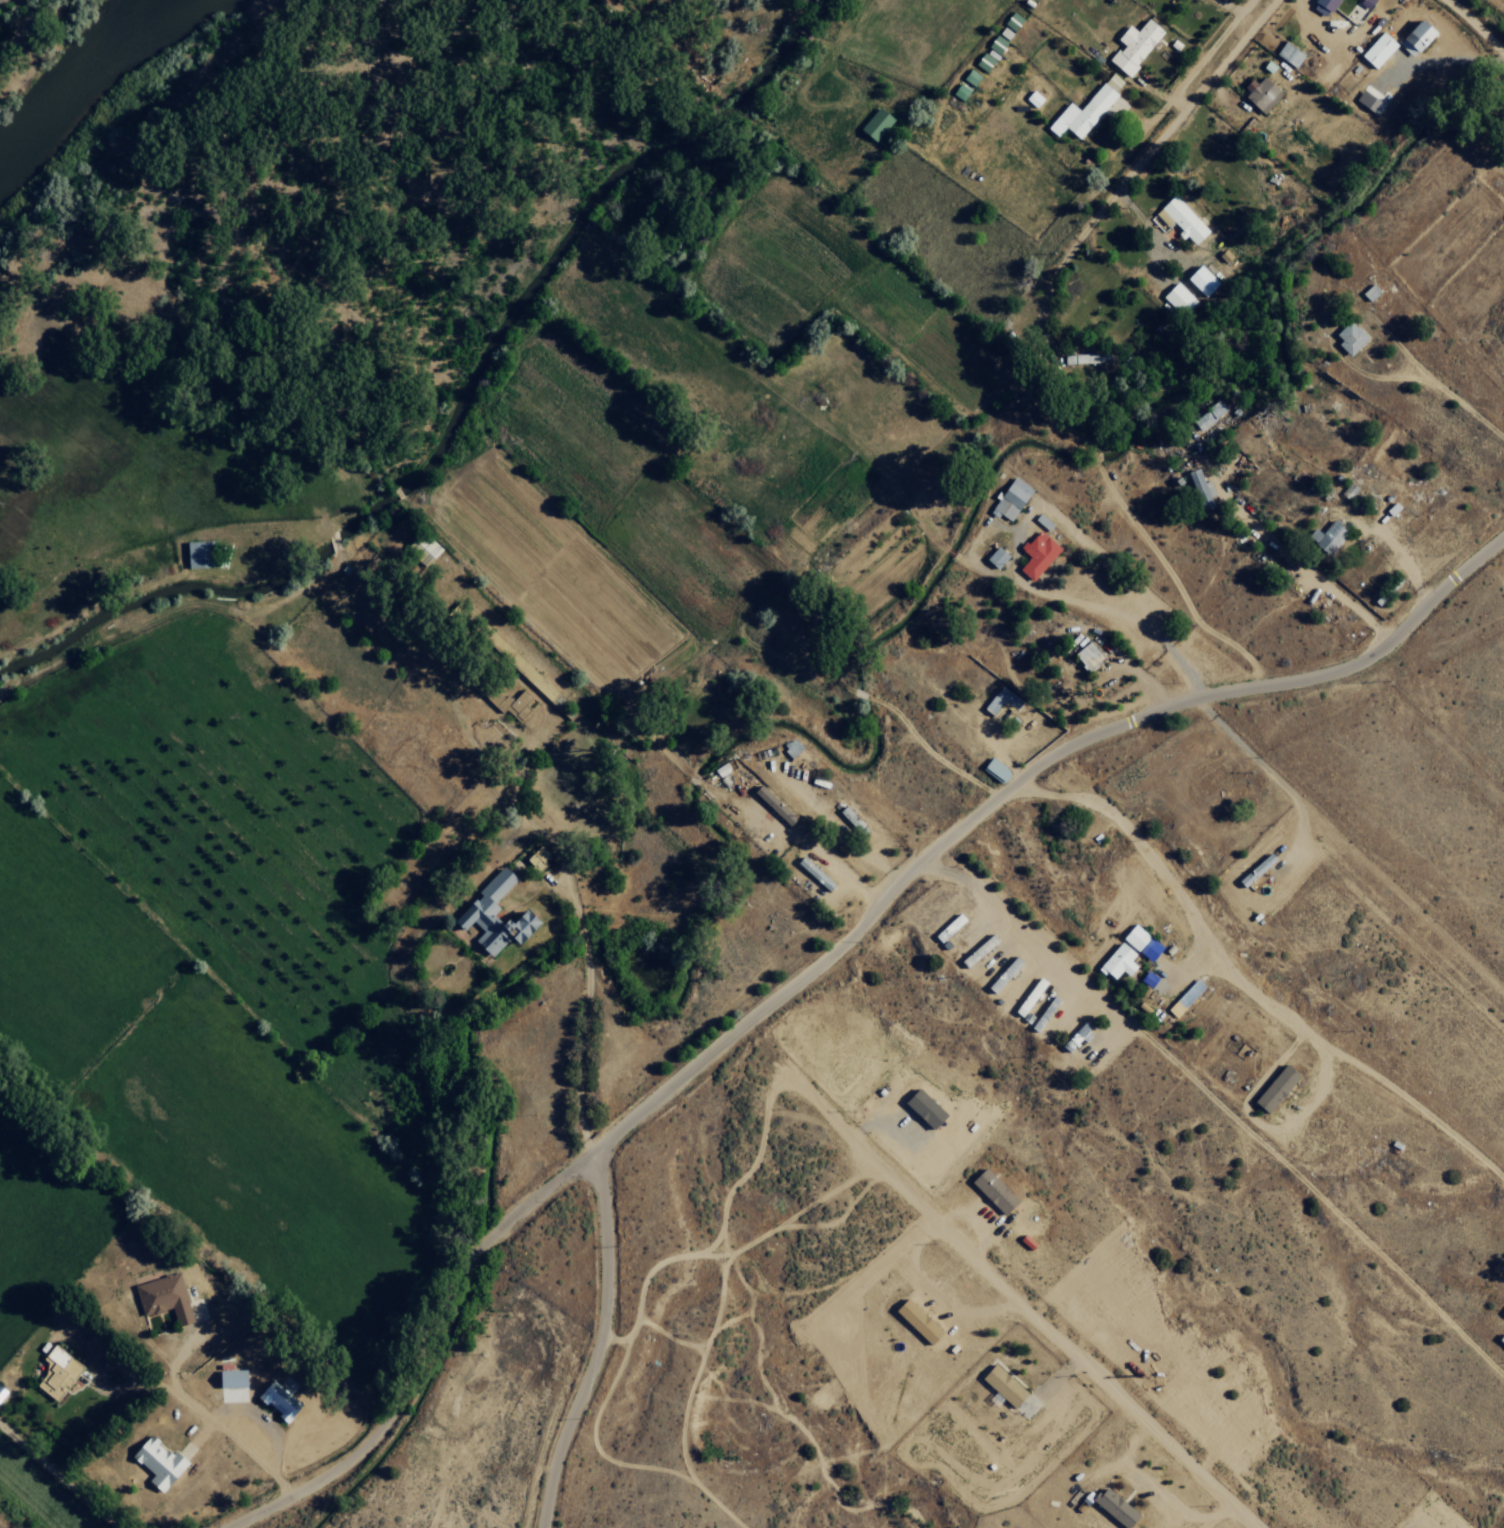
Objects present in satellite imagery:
building: (1370, 0)
building: (1321, 6)
building: (1003, 32)
building: (1414, 37)
building: (995, 43)
building: (1132, 45)
building: (1376, 49)
building: (1288, 54)
building: (984, 59)
building: (969, 76)
building: (1111, 81)
building: (958, 91)
river: (96, 92)
building: (1259, 93)
building: (1032, 97)
building: (1367, 97)
building: (1080, 112)
building: (873, 123)
building: (1179, 219)
building: (1201, 279)
building: (1368, 292)
building: (1180, 298)
building: (1347, 336)
building: (1081, 358)
building: (1207, 414)
building: (1198, 488)
building: (1009, 499)
building: (1042, 521)
building: (1326, 536)
building: (424, 551)
road: (1434, 552)
building: (192, 554)
building: (1036, 554)
building: (994, 557)
road: (1351, 611)
building: (1085, 655)
building: (998, 699)
building: (506, 702)
building: (790, 747)
building: (993, 769)
building: (722, 772)
road: (1357, 797)
building: (771, 804)
road: (1350, 814)
building: (851, 819)
building: (535, 858)
road: (1122, 863)
building: (1254, 869)
building: (813, 872)
building: (491, 915)
building: (947, 926)
road: (600, 936)
building: (1140, 941)
building: (976, 950)
building: (1117, 960)
road: (815, 966)
building: (1002, 974)
building: (1184, 997)
building: (1028, 999)
building: (1043, 1013)
building: (1273, 1088)
building: (921, 1108)
building: (990, 1190)
road: (946, 1294)
building: (161, 1297)
building: (1502, 1311)
building: (914, 1321)
road: (617, 1338)
building: (55, 1372)
building: (227, 1378)
building: (1000, 1385)
building: (275, 1400)
building: (155, 1462)
building: (1112, 1506)

